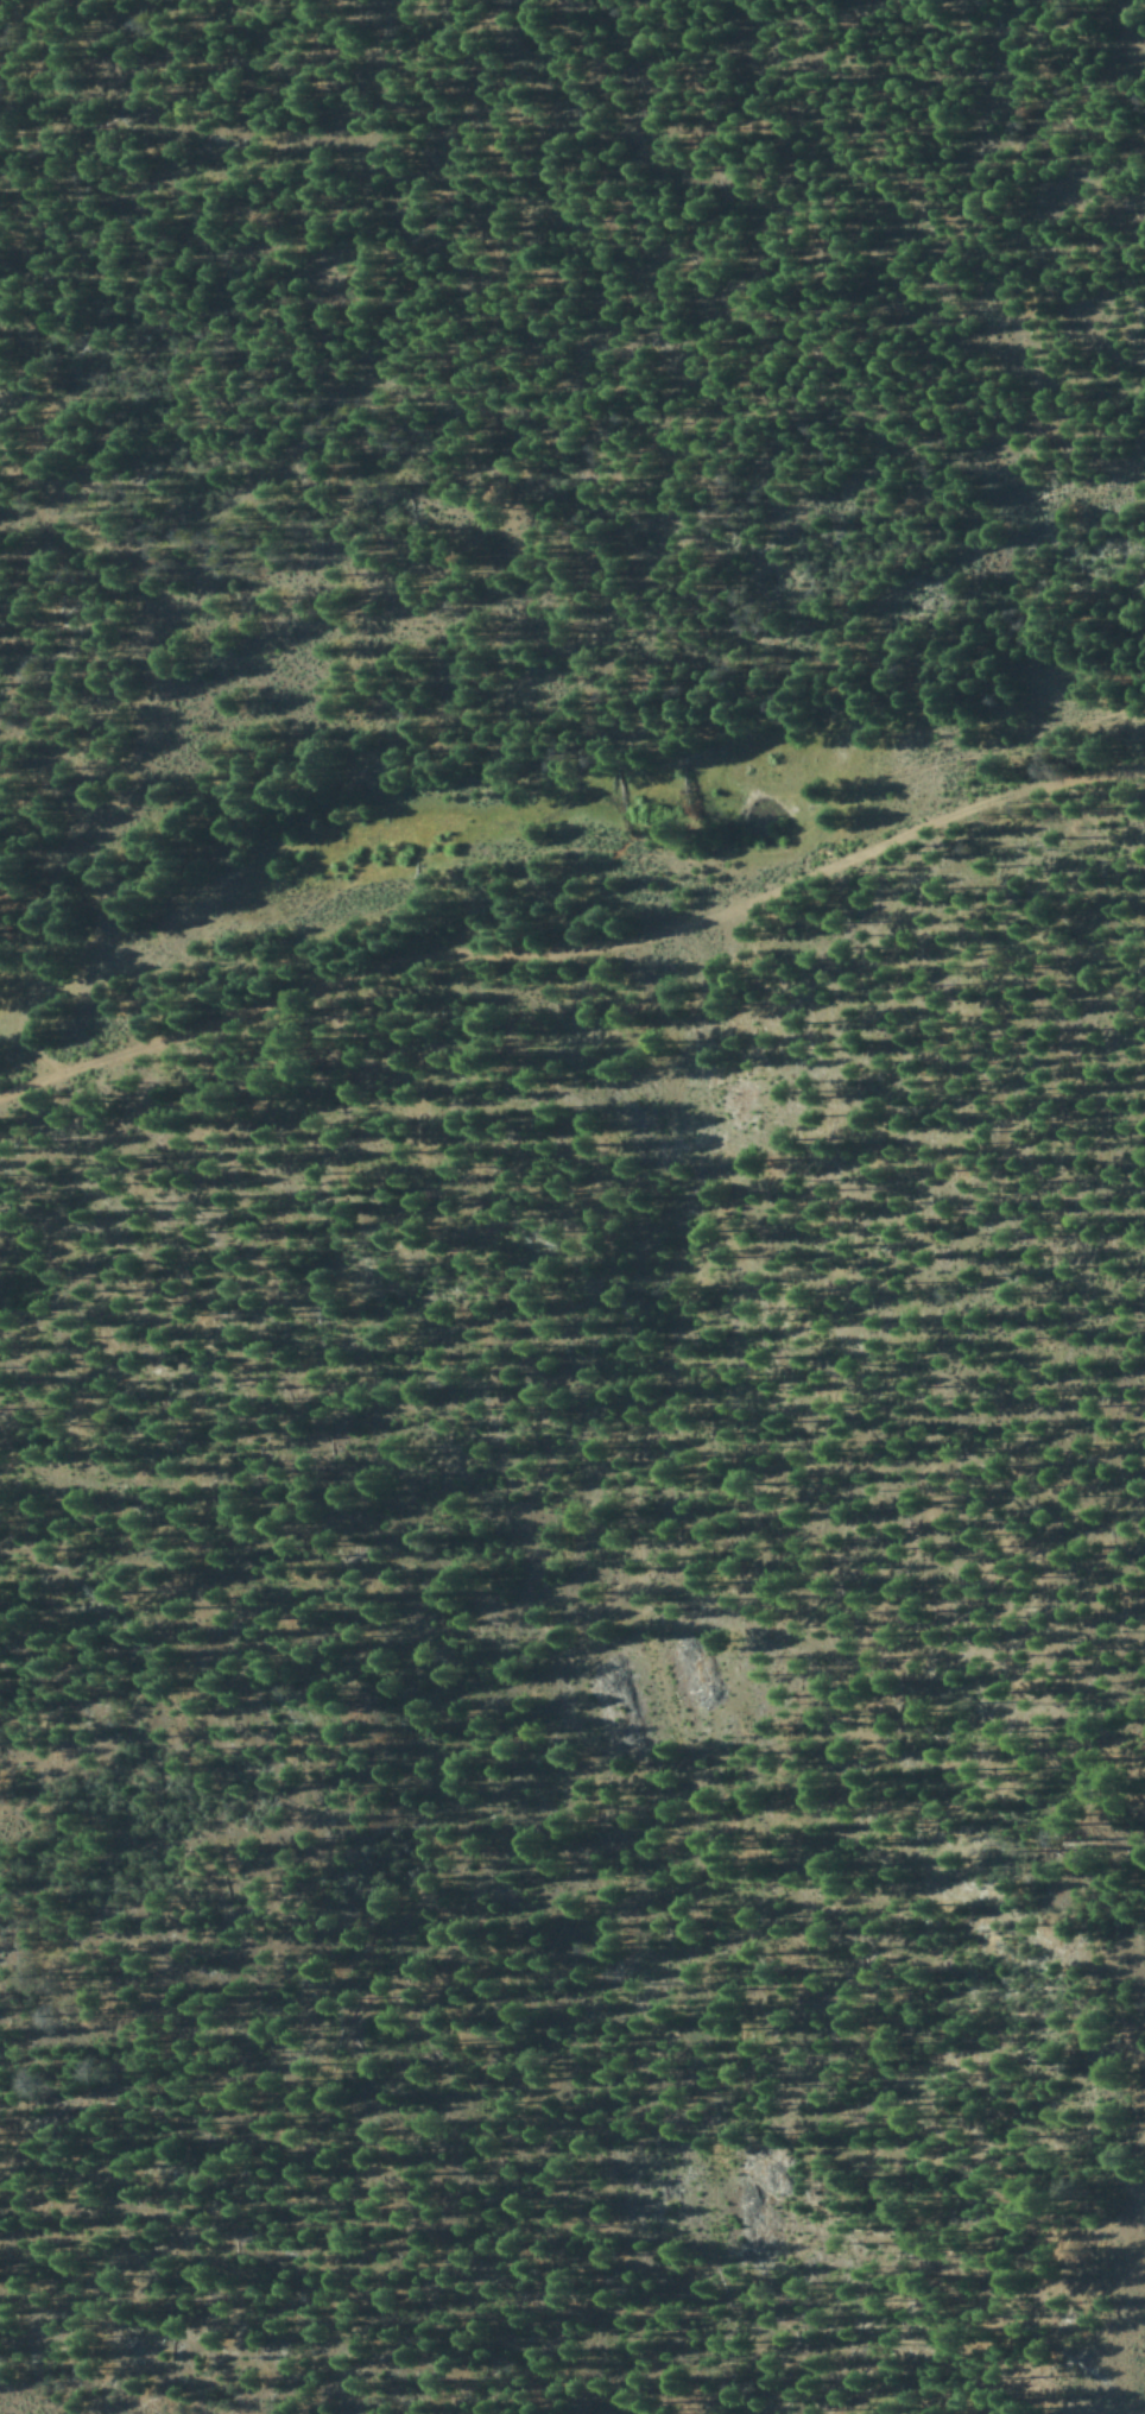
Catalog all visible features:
road: (561, 798)

